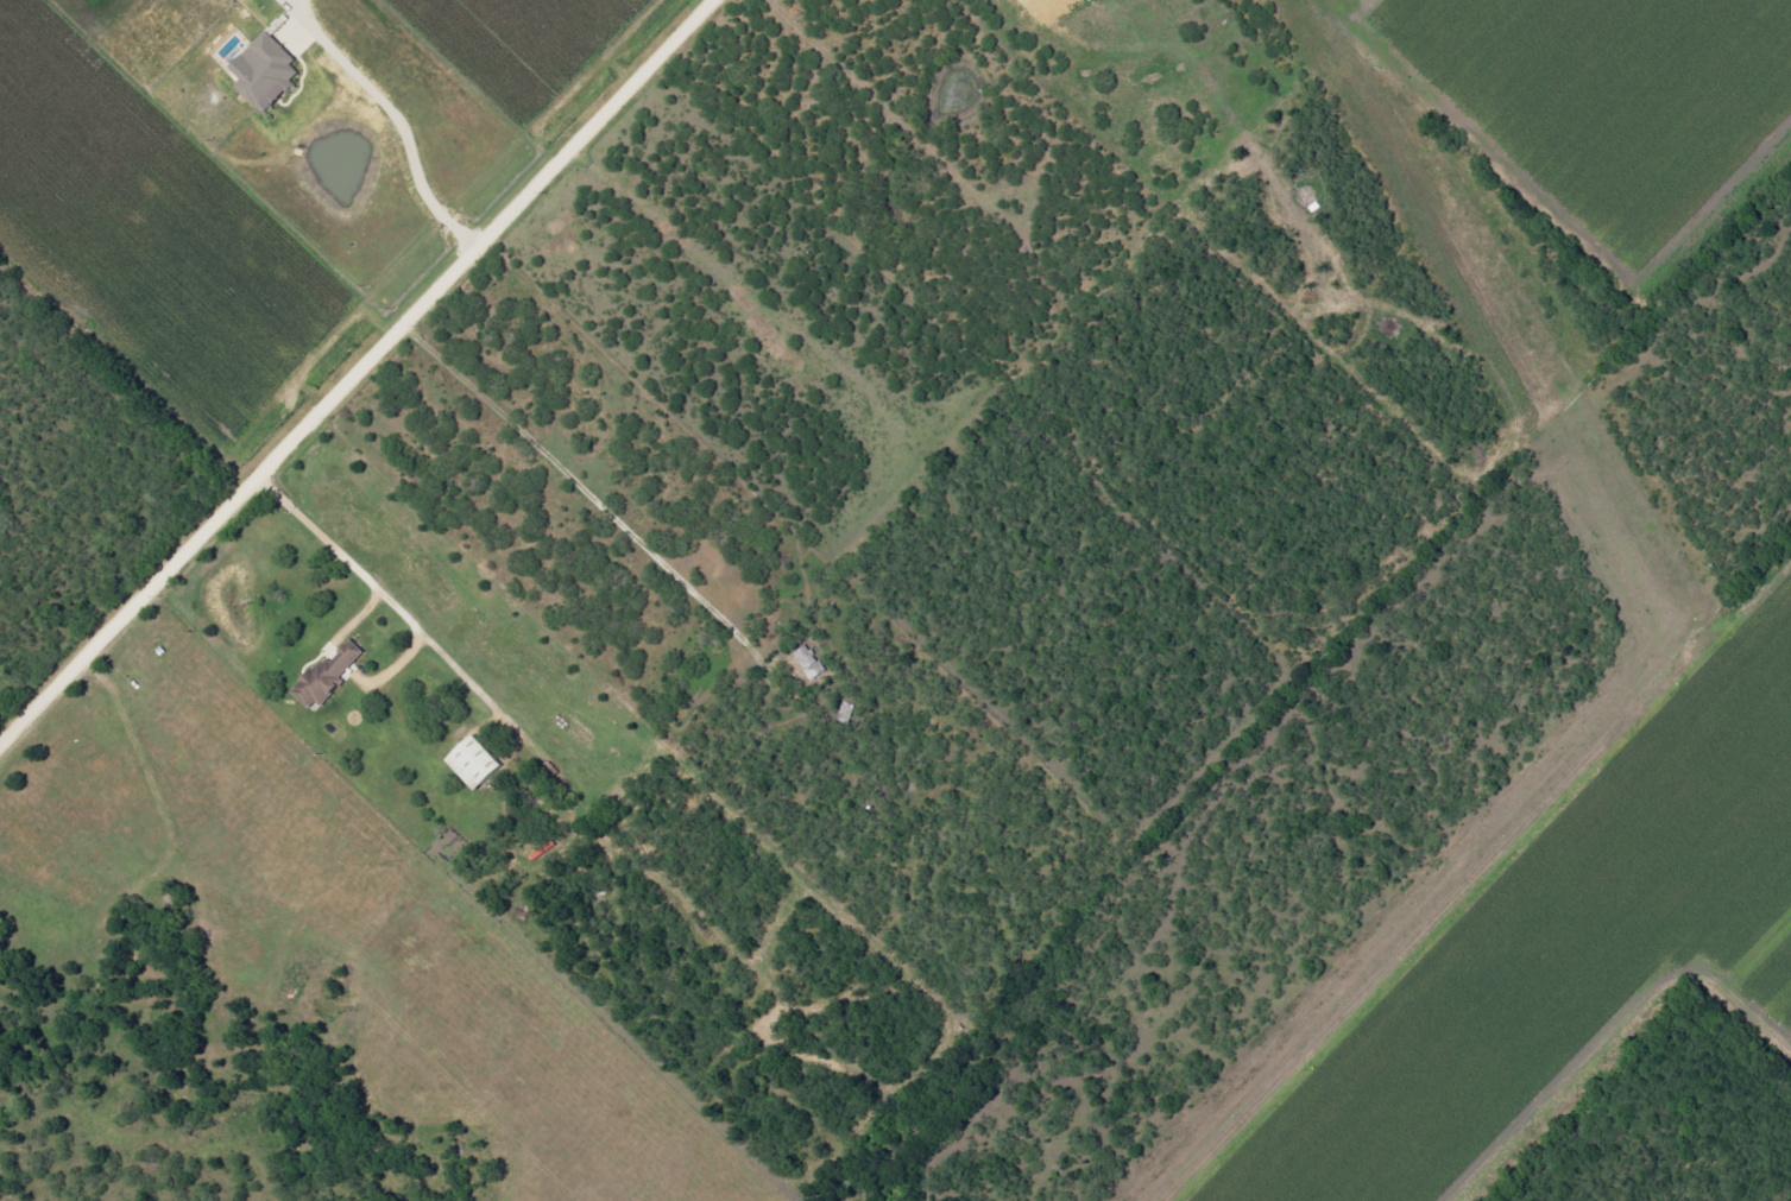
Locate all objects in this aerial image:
road: (1032, 2)
building: (265, 77)
road: (402, 132)
crop: (258, 163)
road: (361, 374)
road: (393, 603)
building: (332, 676)
building: (473, 769)

